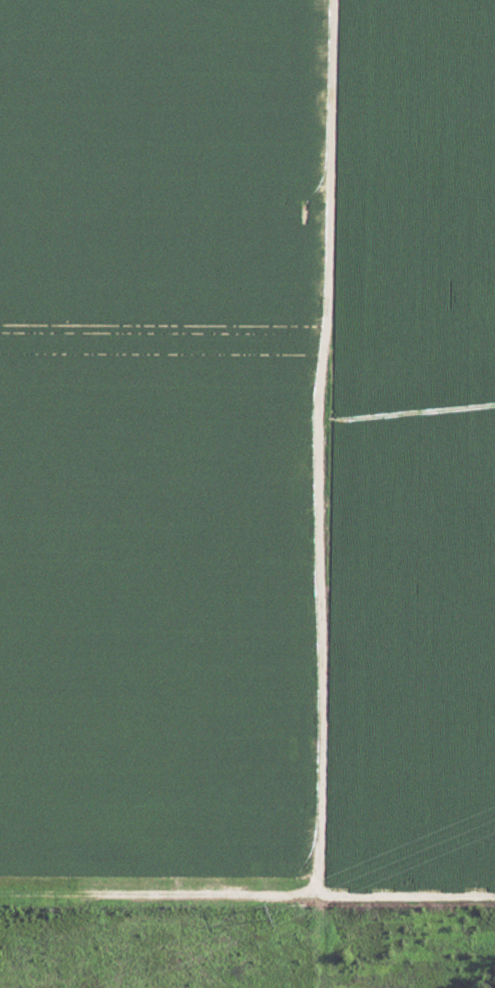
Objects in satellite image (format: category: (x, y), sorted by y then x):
road: (318, 494)
power tower: (263, 915)

